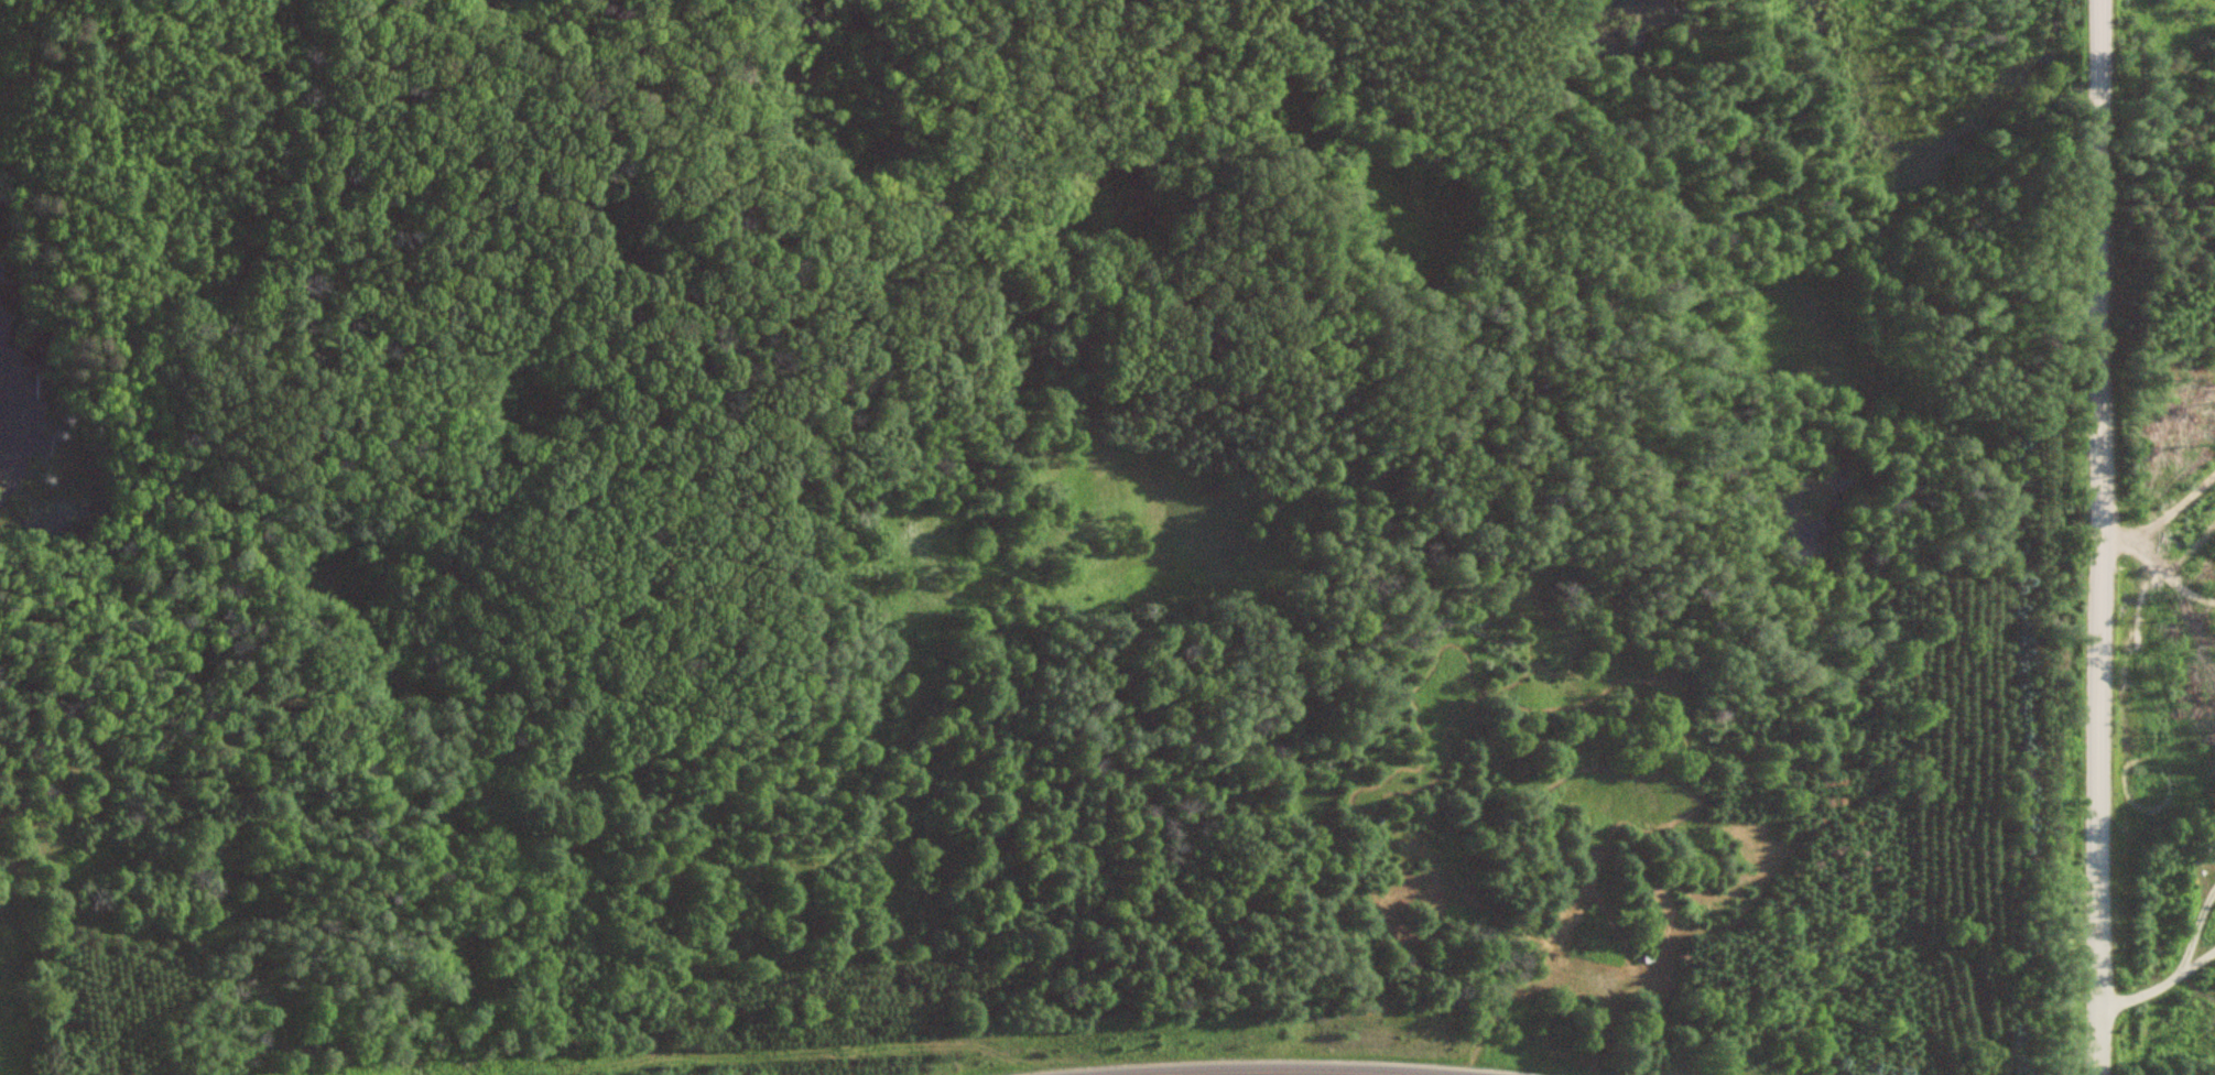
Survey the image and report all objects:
road: (2099, 536)
road: (1289, 1068)

